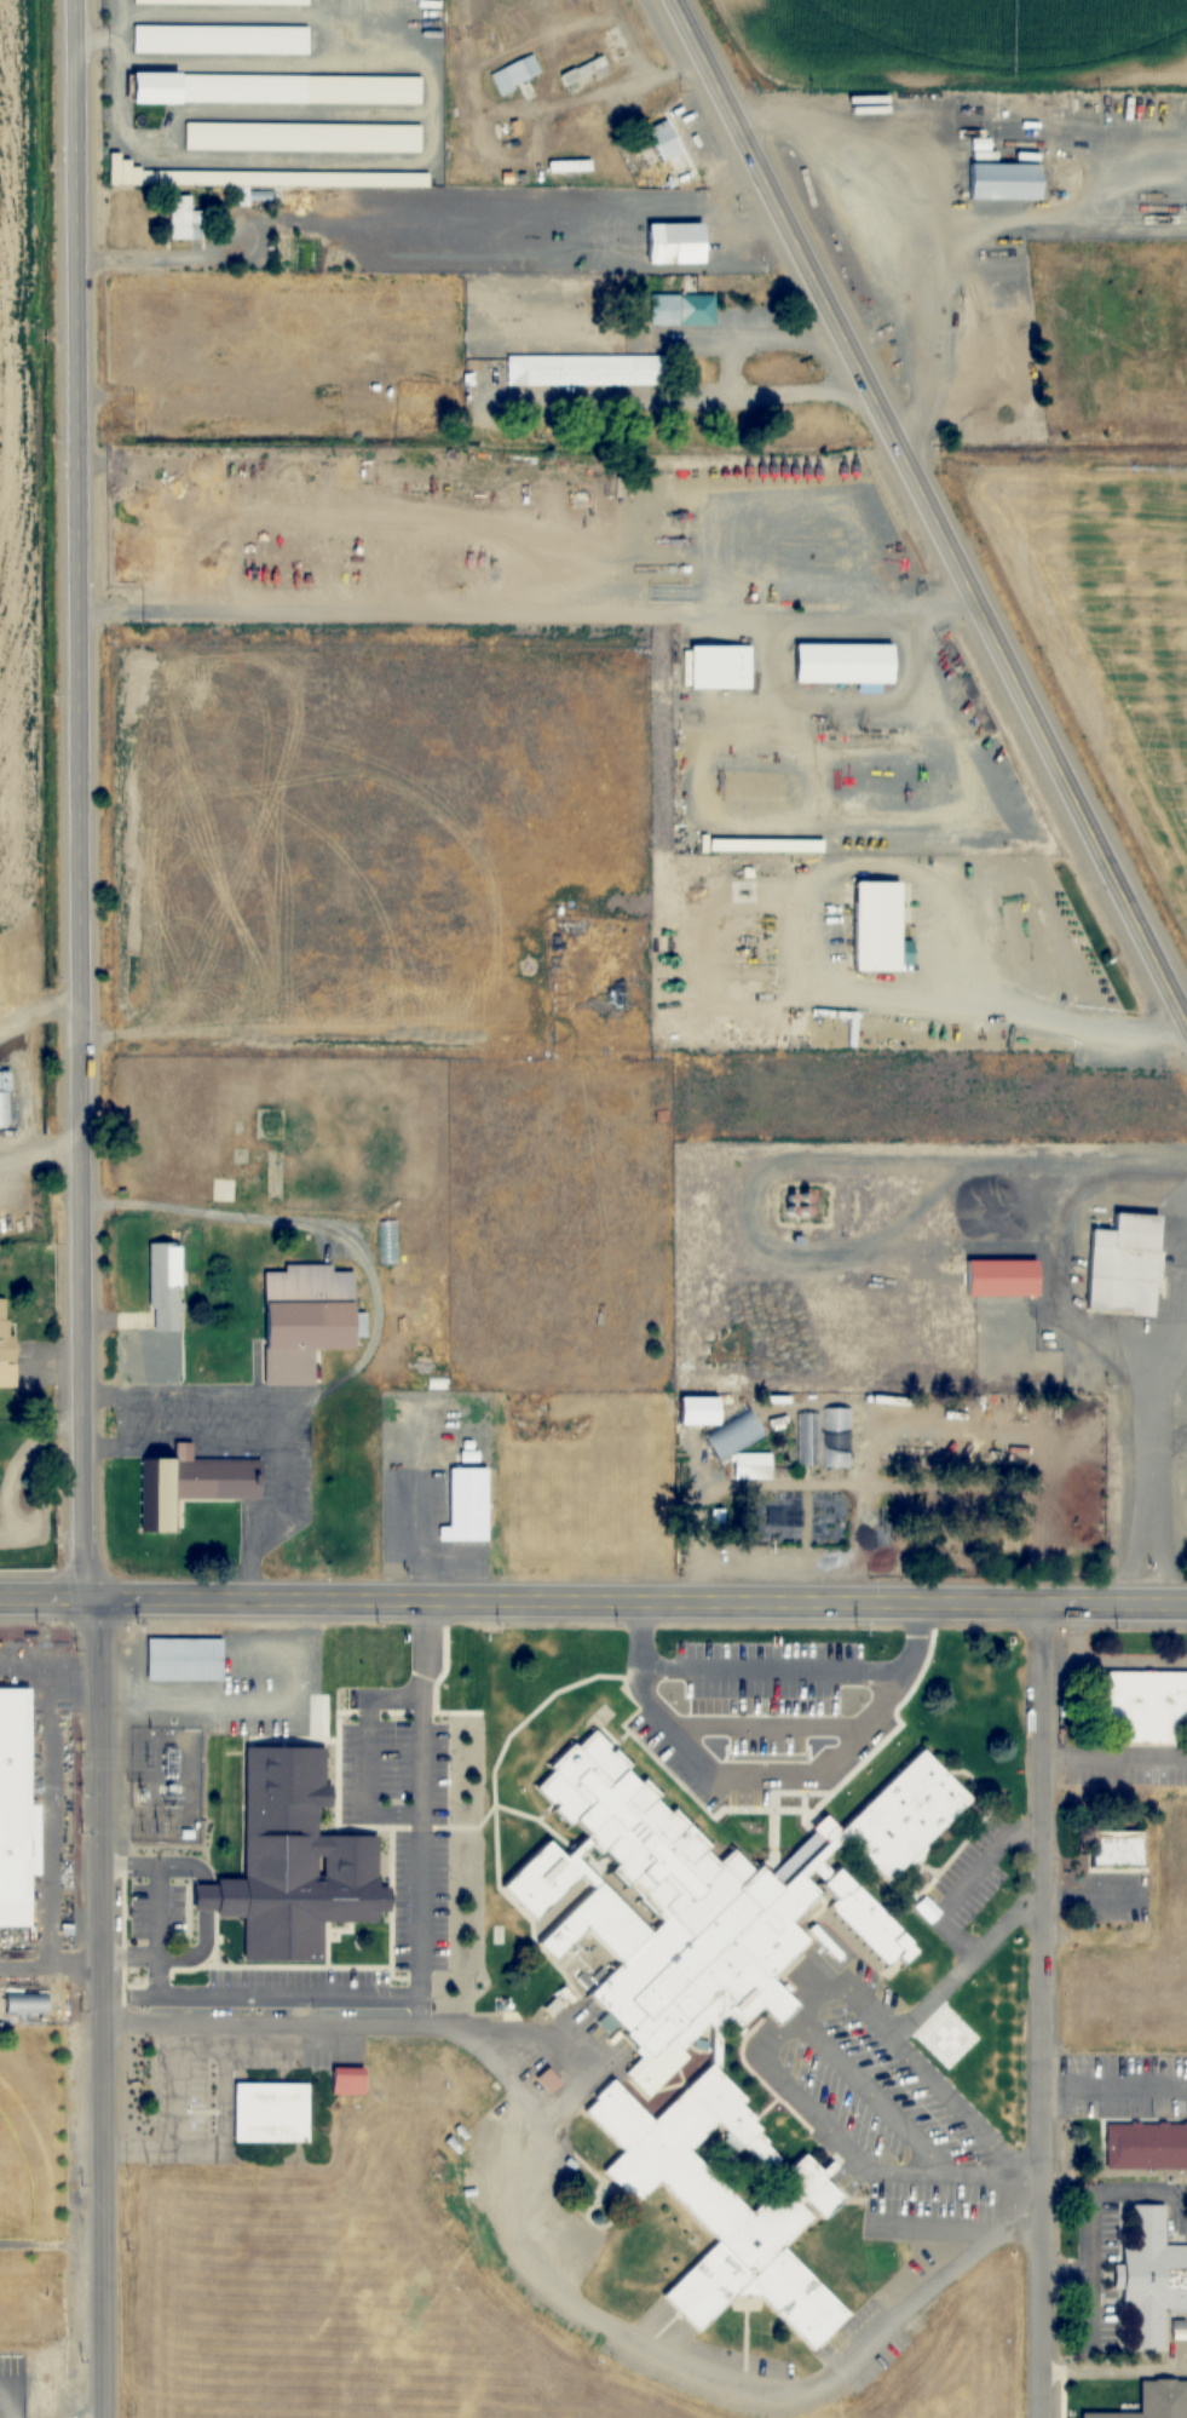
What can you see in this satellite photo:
building: (223, 1)
building: (220, 39)
building: (514, 74)
building: (586, 74)
building: (223, 87)
building: (246, 136)
building: (665, 140)
building: (117, 167)
building: (236, 177)
building: (1001, 182)
building: (184, 218)
building: (679, 243)
building: (685, 310)
building: (589, 371)
road: (928, 511)
building: (847, 662)
building: (722, 666)
road: (80, 798)
building: (880, 927)
building: (5, 1099)
building: (1125, 1265)
building: (1003, 1277)
building: (166, 1286)
building: (307, 1319)
building: (7, 1349)
road: (203, 1403)
building: (721, 1424)
building: (825, 1440)
road: (267, 1443)
building: (917, 1443)
building: (922, 1464)
building: (756, 1465)
building: (224, 1478)
building: (160, 1495)
building: (467, 1505)
road: (593, 1598)
building: (267, 1655)
building: (185, 1659)
building: (359, 1659)
road: (773, 1664)
building: (1143, 1706)
road: (767, 1725)
road: (367, 1757)
road: (1114, 1761)
road: (765, 1774)
building: (17, 1803)
building: (1118, 1849)
building: (293, 1900)
road: (204, 1913)
road: (939, 1919)
road: (391, 1995)
building: (713, 1995)
building: (28, 2003)
road: (94, 2006)
road: (1043, 2009)
road: (421, 2011)
road: (295, 2026)
helipad: (952, 2037)
road: (269, 2045)
road: (492, 2066)
road: (771, 2068)
building: (549, 2080)
building: (348, 2081)
road: (1114, 2085)
road: (950, 2094)
road: (878, 2100)
building: (271, 2109)
road: (223, 2123)
road: (175, 2129)
building: (1145, 2146)
park: (12, 2187)
road: (980, 2232)
building: (577, 2233)
building: (1151, 2278)
road: (640, 2350)

